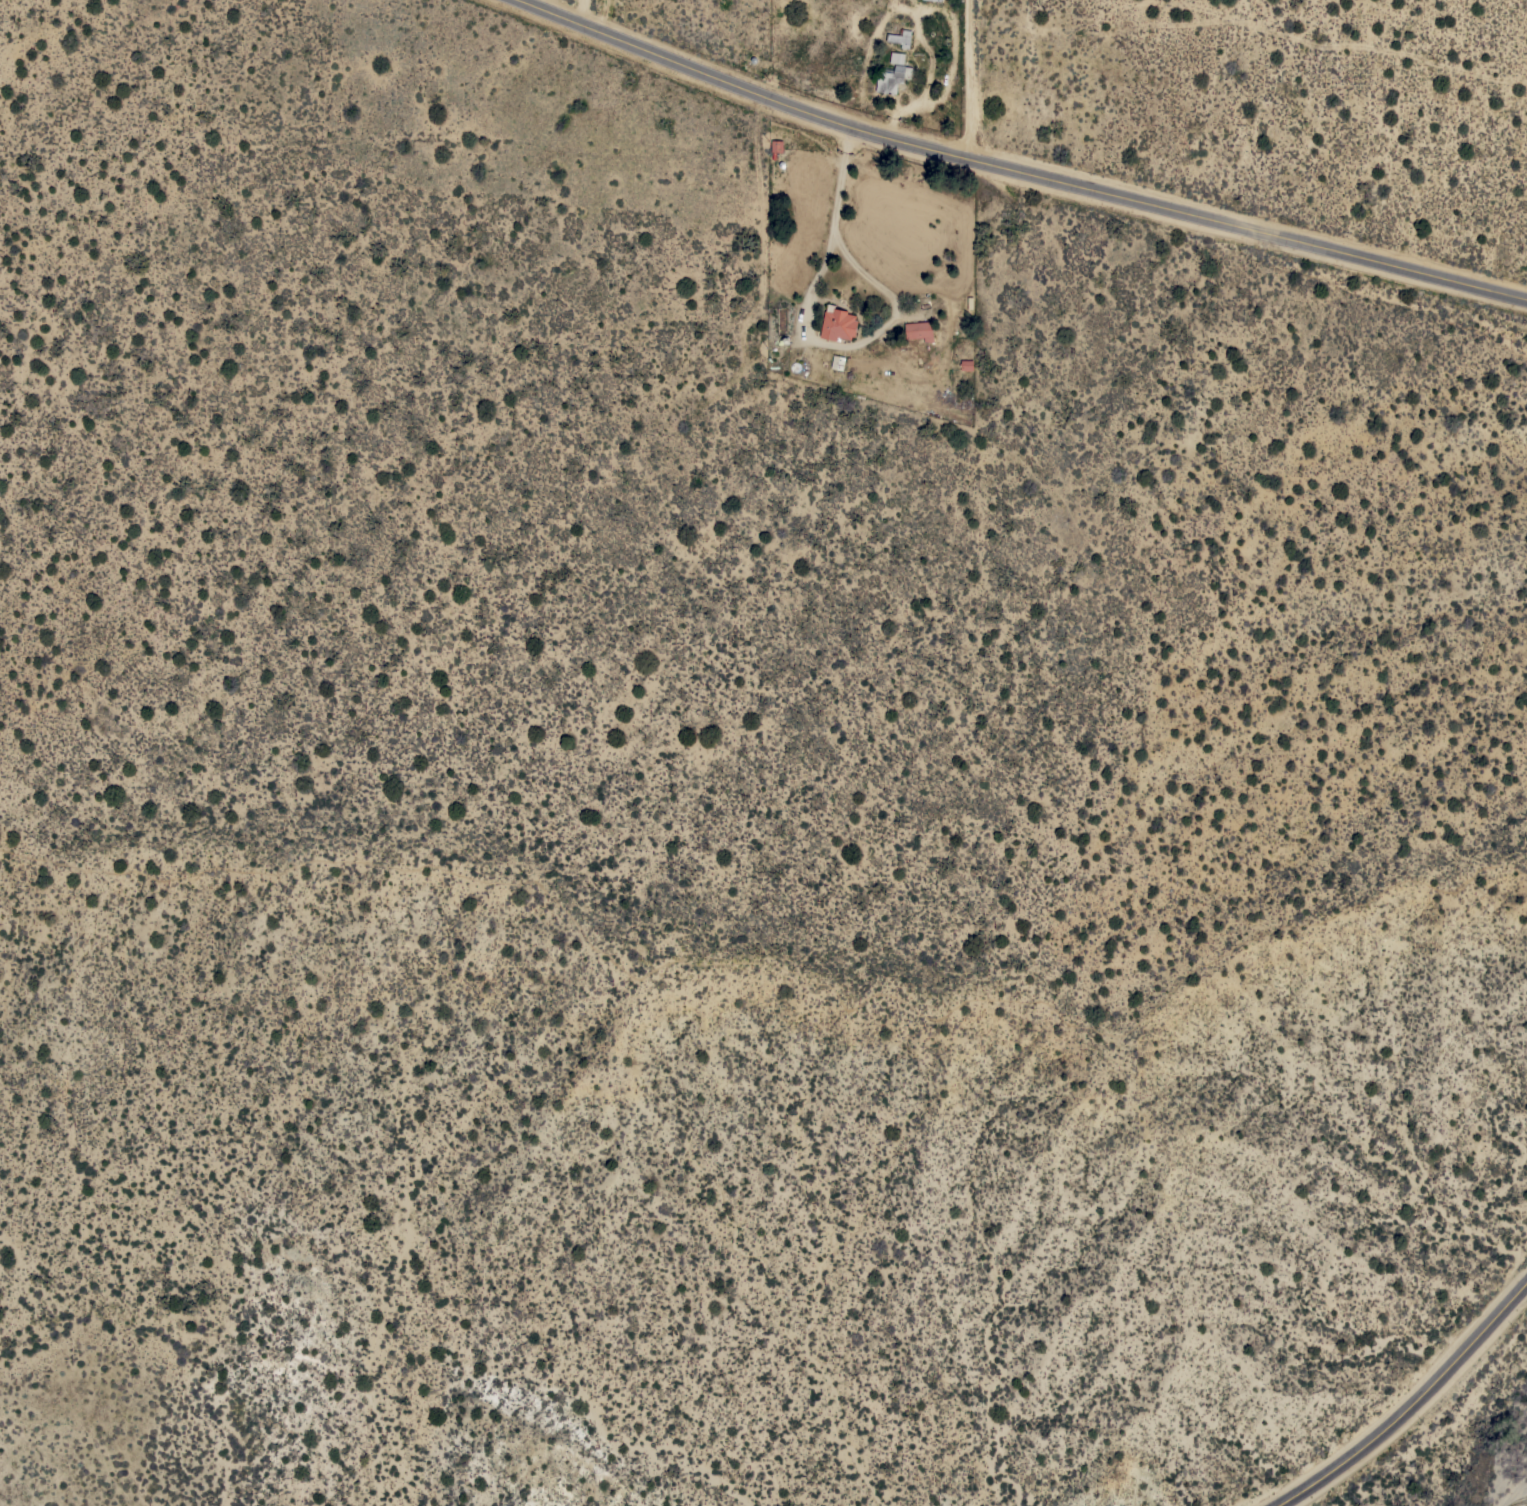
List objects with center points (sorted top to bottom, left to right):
building: (938, 0)
road: (588, 12)
building: (899, 38)
building: (897, 57)
building: (892, 77)
road: (970, 80)
building: (776, 145)
road: (1019, 172)
building: (838, 324)
road: (802, 328)
building: (919, 330)
building: (838, 362)
building: (966, 365)
road: (1414, 1403)

